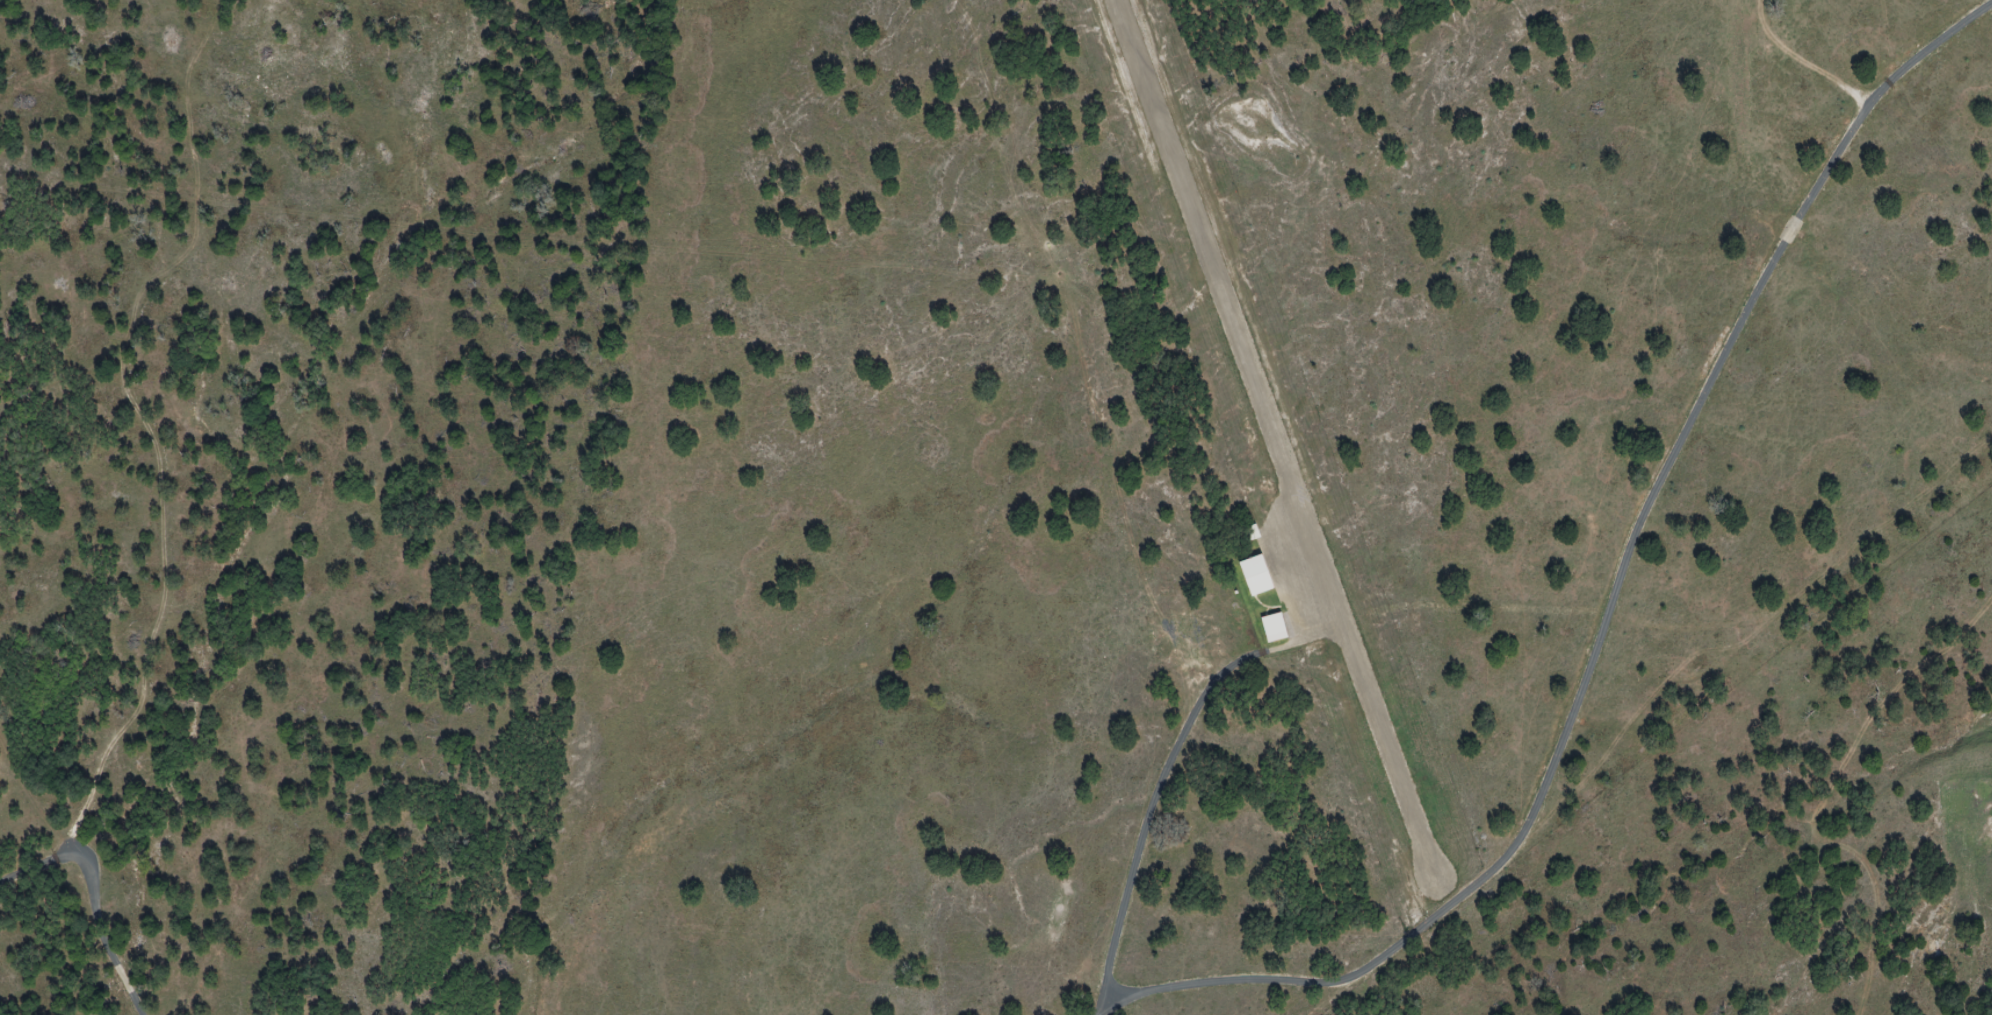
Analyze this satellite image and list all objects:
building: (1253, 534)
building: (1258, 577)
building: (1275, 629)

